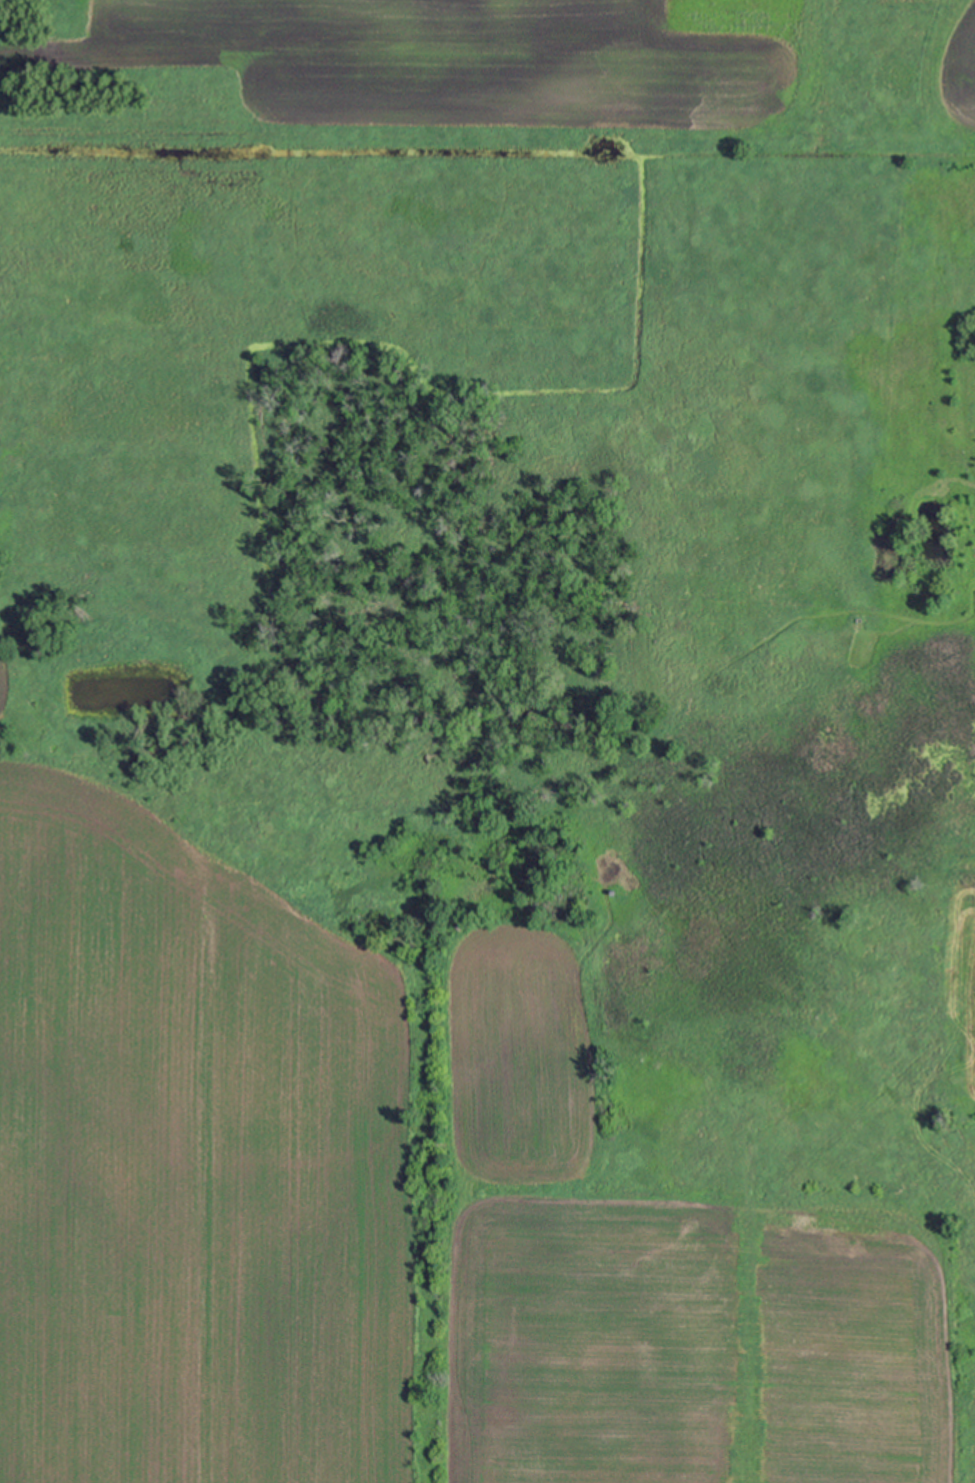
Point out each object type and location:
building: (858, 621)
building: (475, 860)
building: (466, 877)
building: (459, 927)

